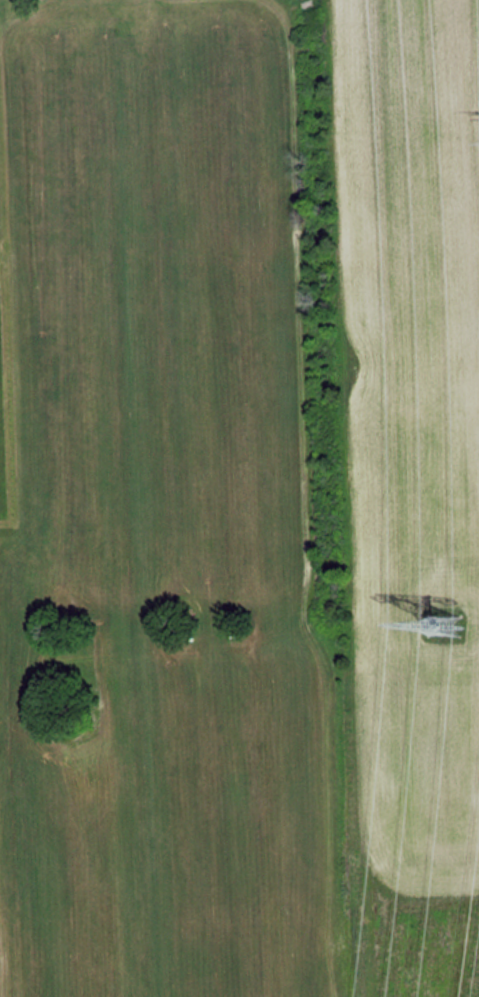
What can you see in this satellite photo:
power tower: (442, 625)

